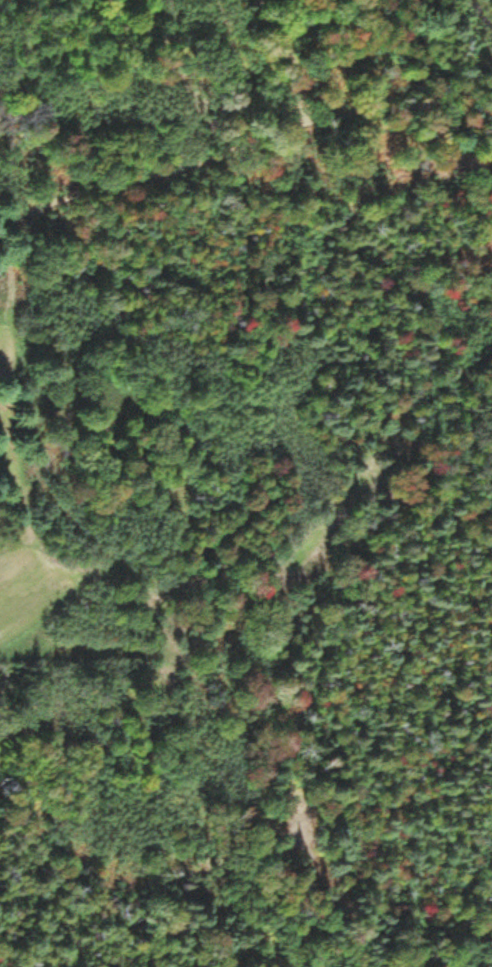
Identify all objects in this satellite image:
road: (248, 151)

